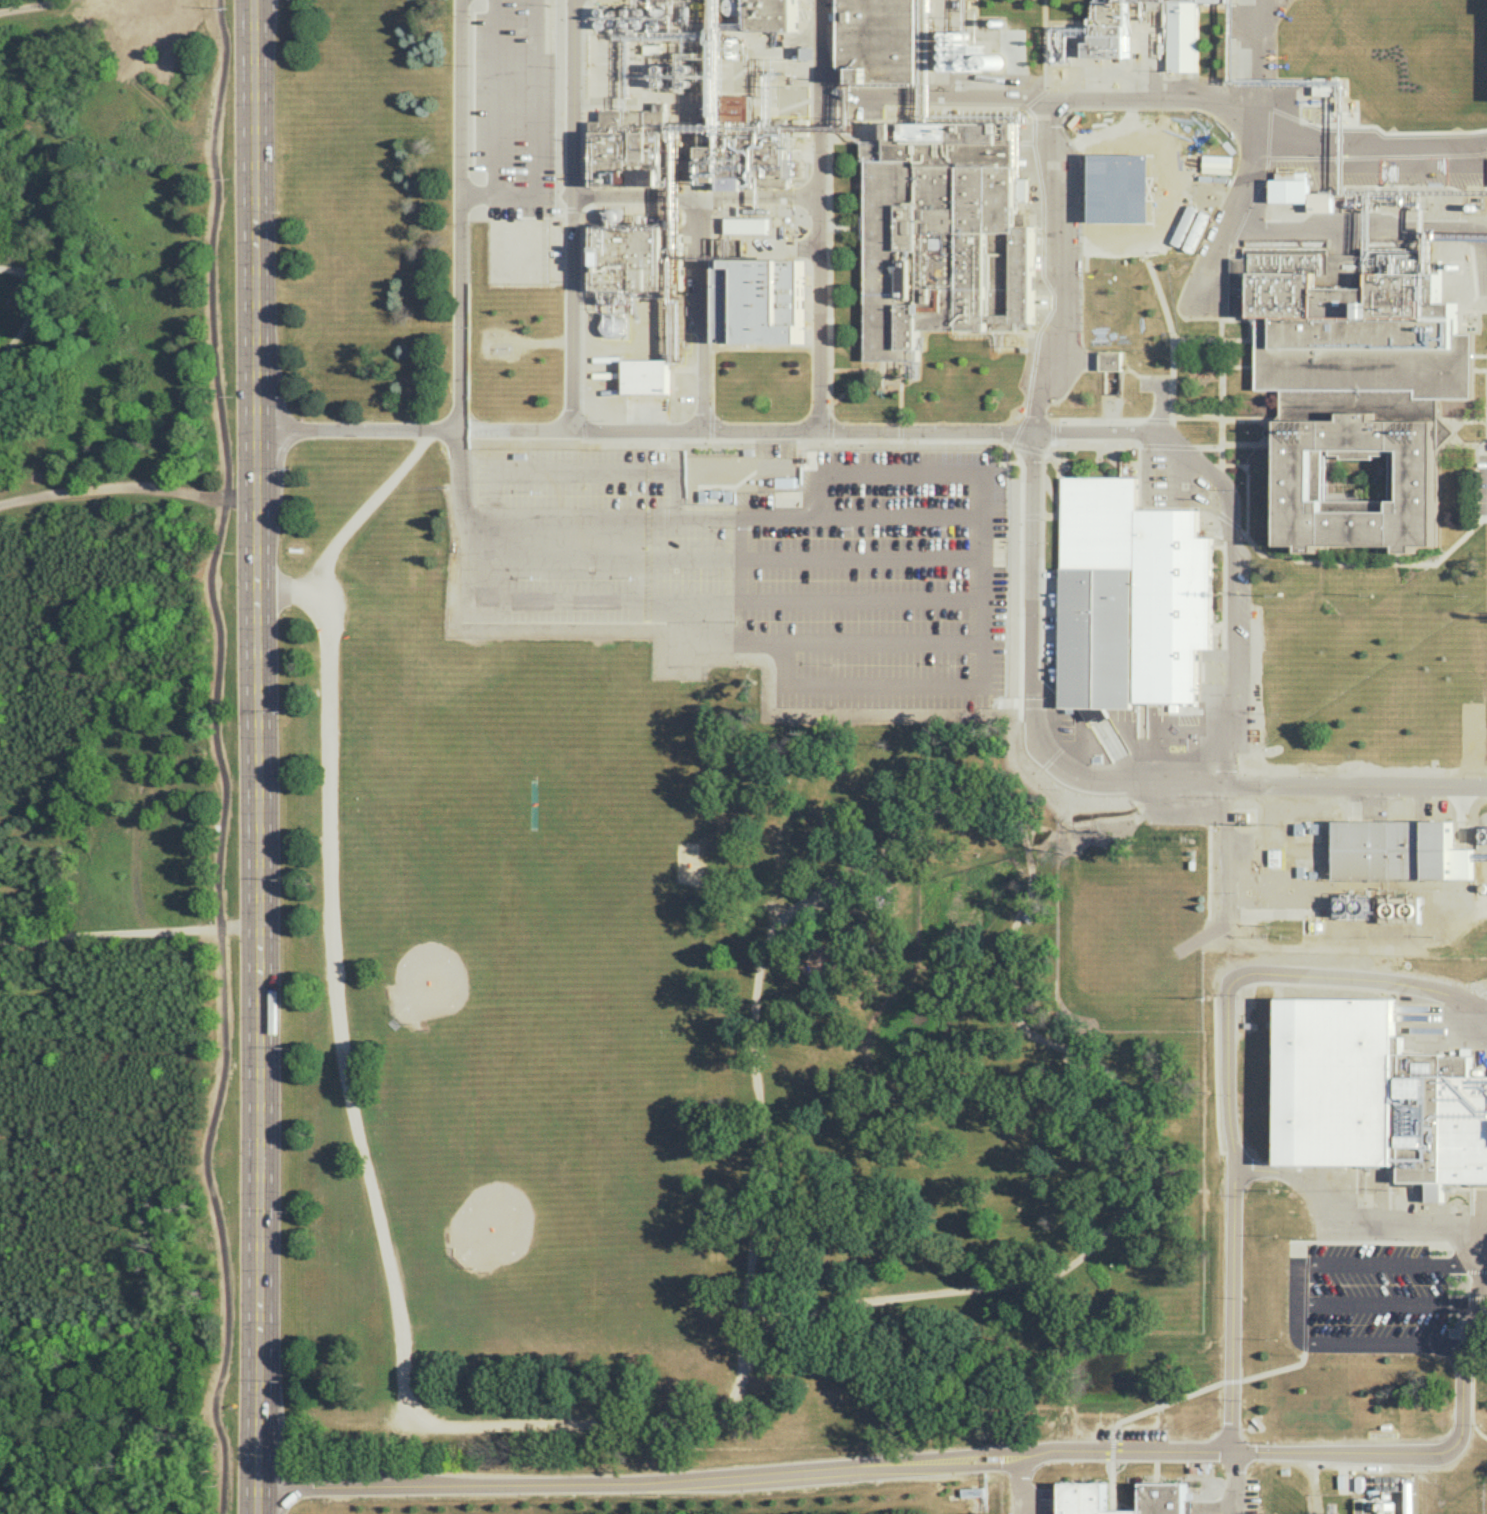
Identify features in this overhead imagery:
road: (34, 8)
building: (1148, 30)
building: (701, 39)
building: (883, 39)
road: (1046, 93)
road: (493, 98)
road: (1161, 102)
road: (1030, 111)
road: (1047, 120)
road: (534, 132)
building: (637, 149)
building: (733, 156)
building: (1298, 191)
road: (696, 193)
road: (1237, 199)
road: (568, 210)
road: (571, 213)
road: (819, 213)
road: (460, 214)
road: (1358, 224)
building: (747, 225)
road: (846, 226)
building: (944, 234)
building: (630, 258)
road: (1049, 265)
road: (1148, 265)
road: (827, 277)
building: (760, 300)
road: (701, 310)
road: (581, 311)
road: (1195, 336)
road: (729, 347)
building: (1111, 360)
road: (884, 362)
road: (1220, 367)
road: (849, 369)
building: (648, 376)
building: (1355, 387)
road: (1159, 404)
road: (1155, 418)
road: (1219, 419)
road: (1096, 420)
road: (710, 423)
road: (582, 424)
road: (829, 425)
road: (1025, 425)
road: (899, 430)
road: (1269, 430)
road: (1051, 431)
road: (797, 439)
road: (1055, 442)
road: (1165, 445)
road: (1027, 449)
road: (584, 468)
road: (820, 481)
road: (127, 492)
road: (367, 509)
road: (903, 515)
road: (1229, 515)
road: (1031, 516)
road: (726, 555)
road: (1311, 560)
road: (1020, 579)
building: (1129, 598)
road: (829, 602)
road: (671, 637)
road: (883, 644)
road: (257, 756)
road: (223, 758)
building: (1399, 852)
road: (128, 934)
park: (475, 943)
road: (332, 981)
road: (1357, 982)
road: (1118, 1085)
building: (1375, 1096)
park: (522, 1201)
road: (1225, 1215)
road: (1345, 1219)
road: (1296, 1279)
road: (760, 1293)
road: (1363, 1341)
road: (957, 1453)
road: (1235, 1479)
road: (1015, 1481)
building: (1162, 1499)
building: (1081, 1500)
building: (1360, 1506)

